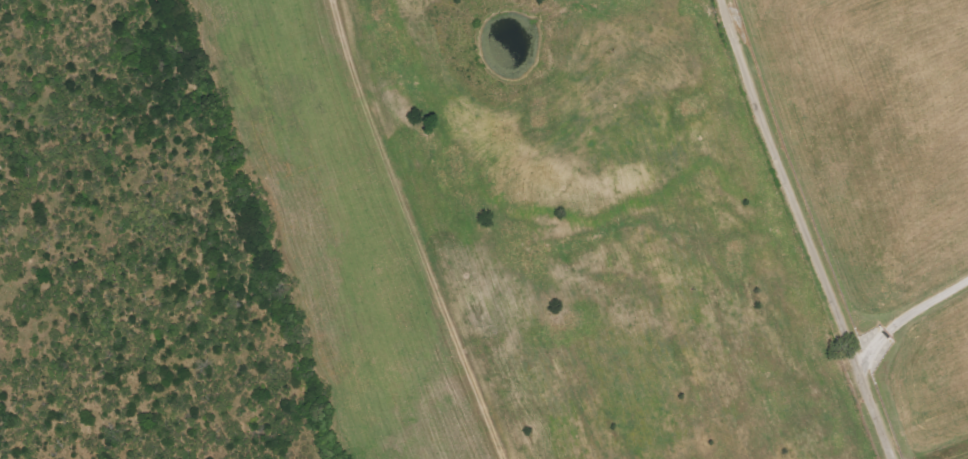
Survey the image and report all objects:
road: (811, 228)
road: (911, 315)
road: (931, 435)

